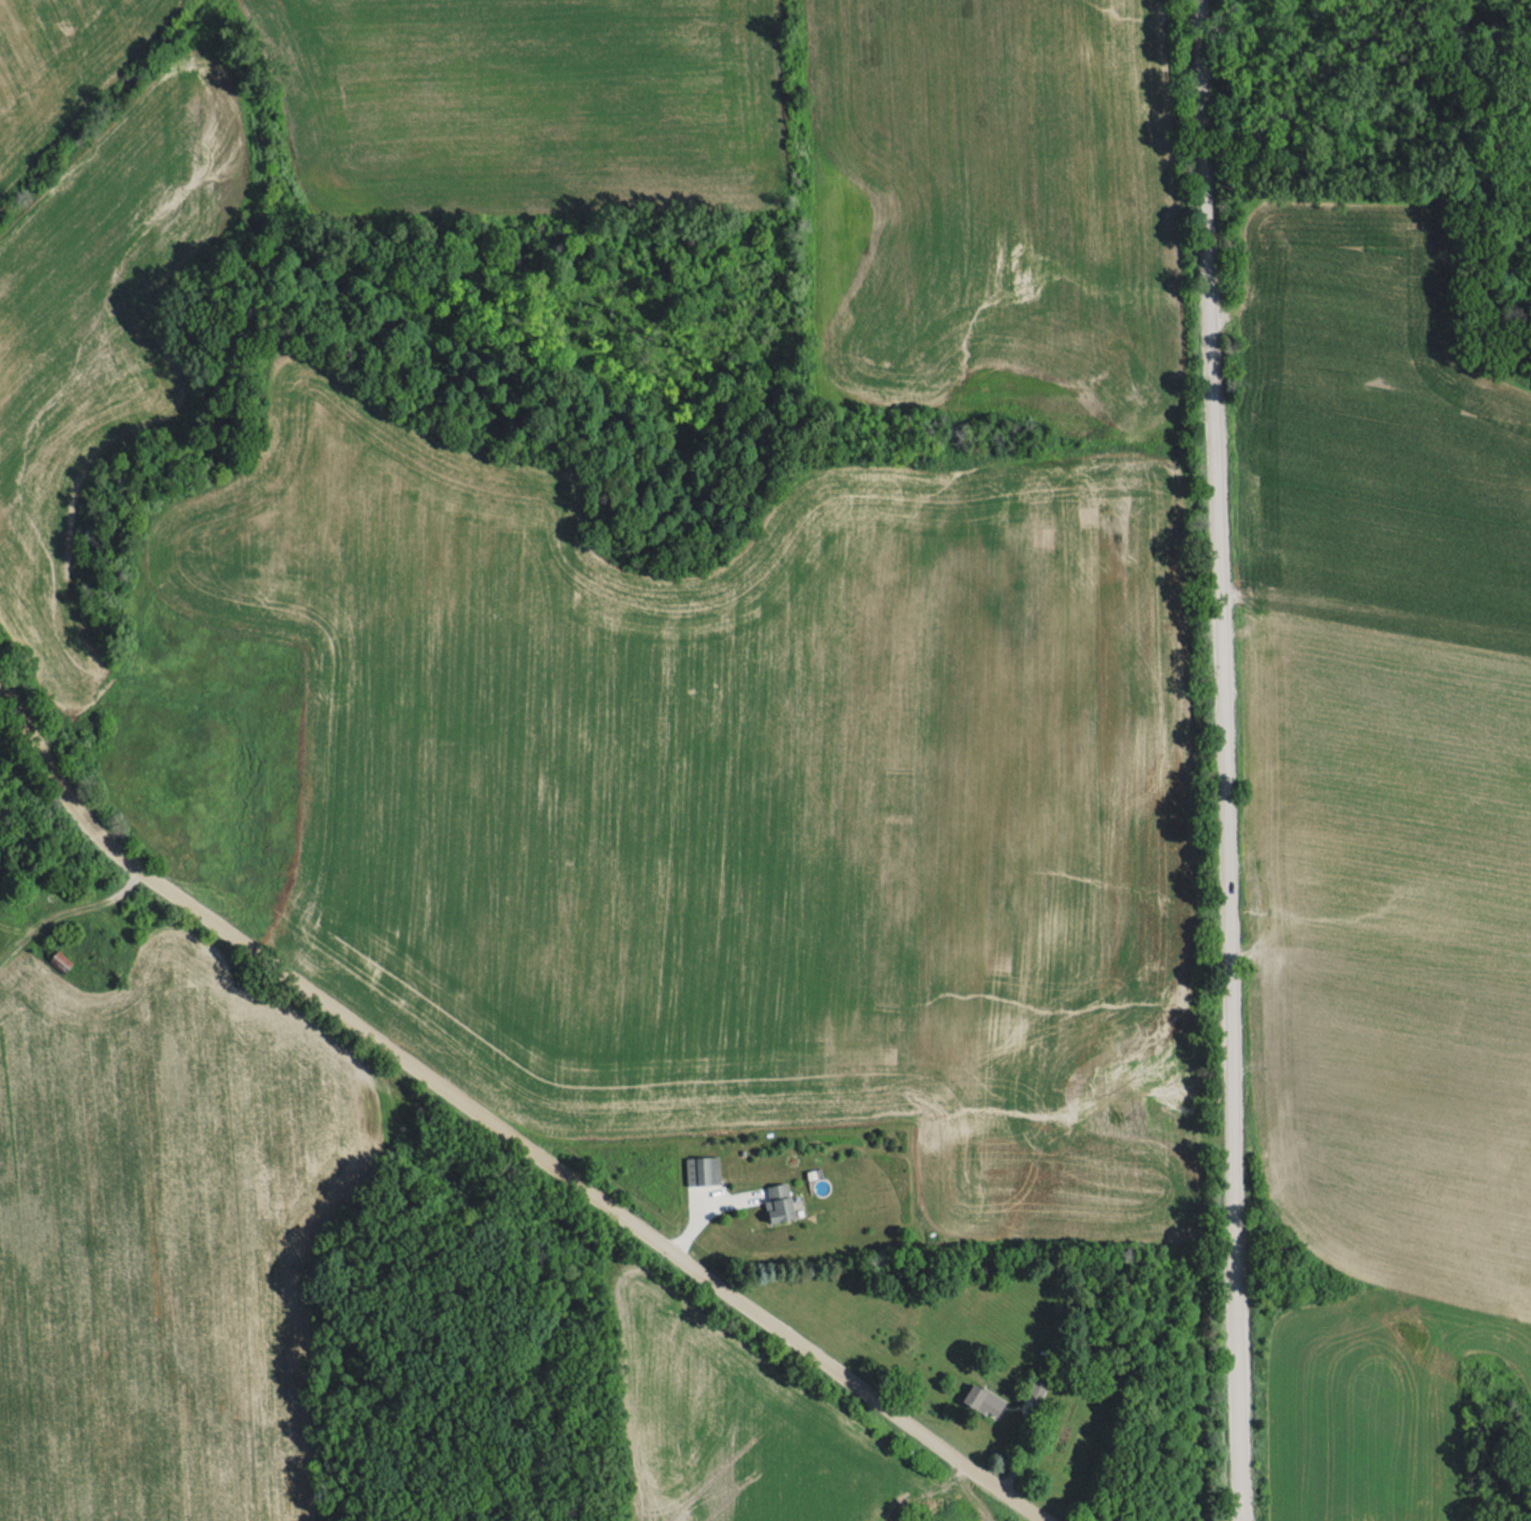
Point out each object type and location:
road: (1227, 760)
building: (60, 961)
road: (498, 1123)
building: (778, 1202)
building: (983, 1400)

